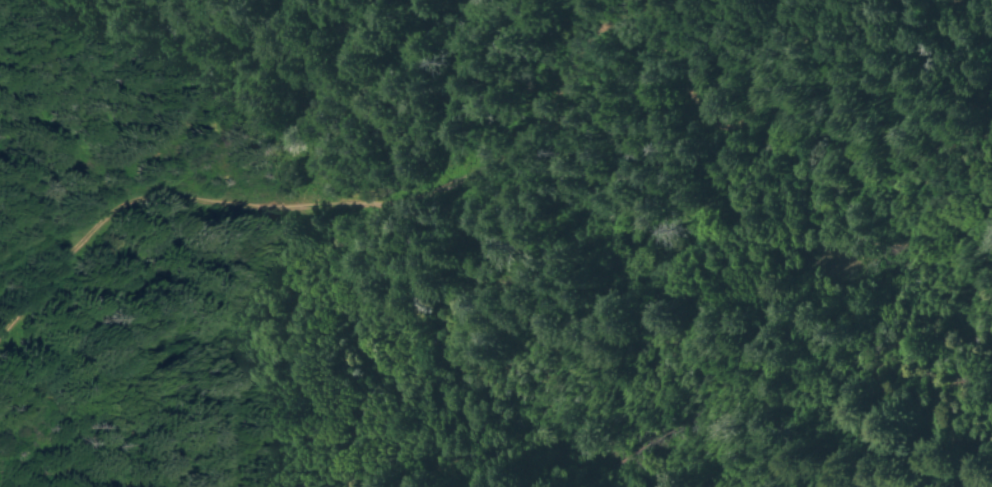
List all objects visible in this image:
road: (448, 184)

